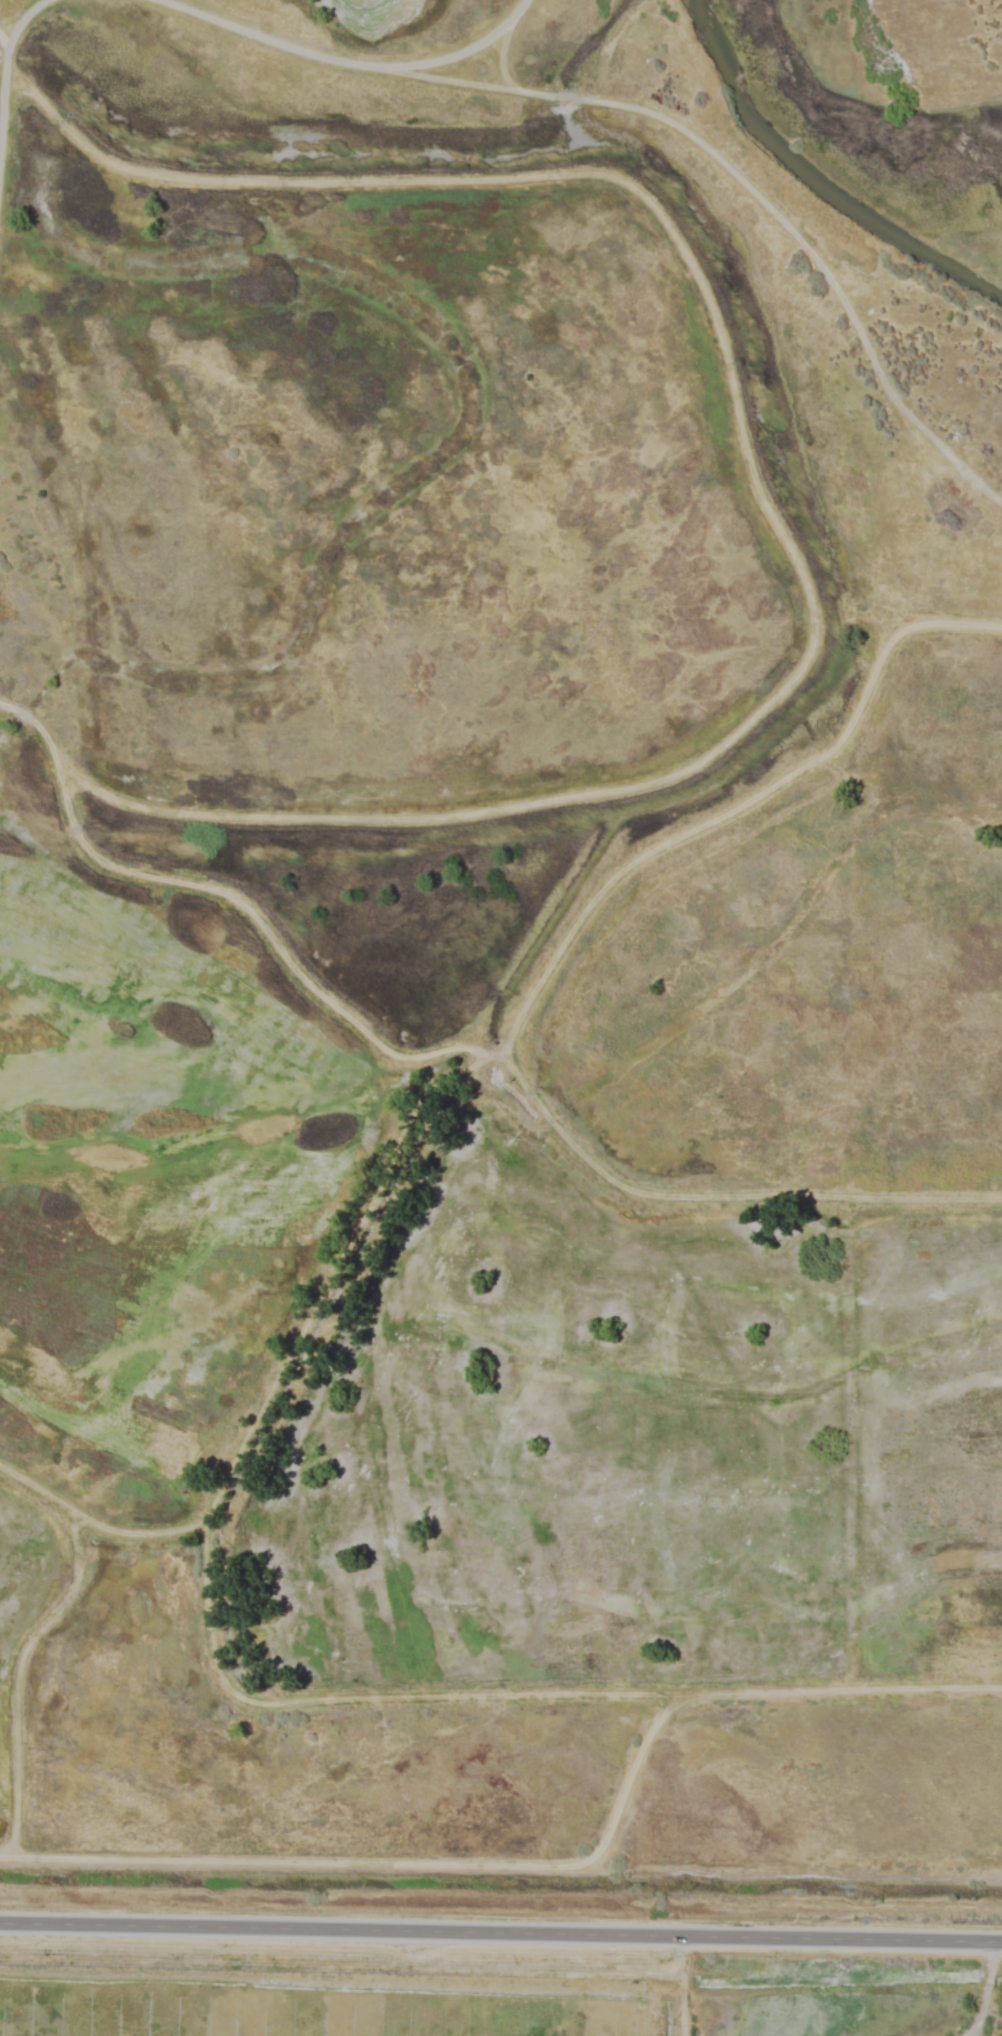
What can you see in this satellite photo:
road: (16, 17)
road: (1, 42)
road: (1, 53)
road: (341, 63)
road: (759, 209)
road: (440, 1107)
road: (711, 1194)
road: (42, 1637)
road: (501, 1929)
crop: (318, 1970)
road: (688, 1984)
road: (986, 1990)
railway: (501, 2013)

